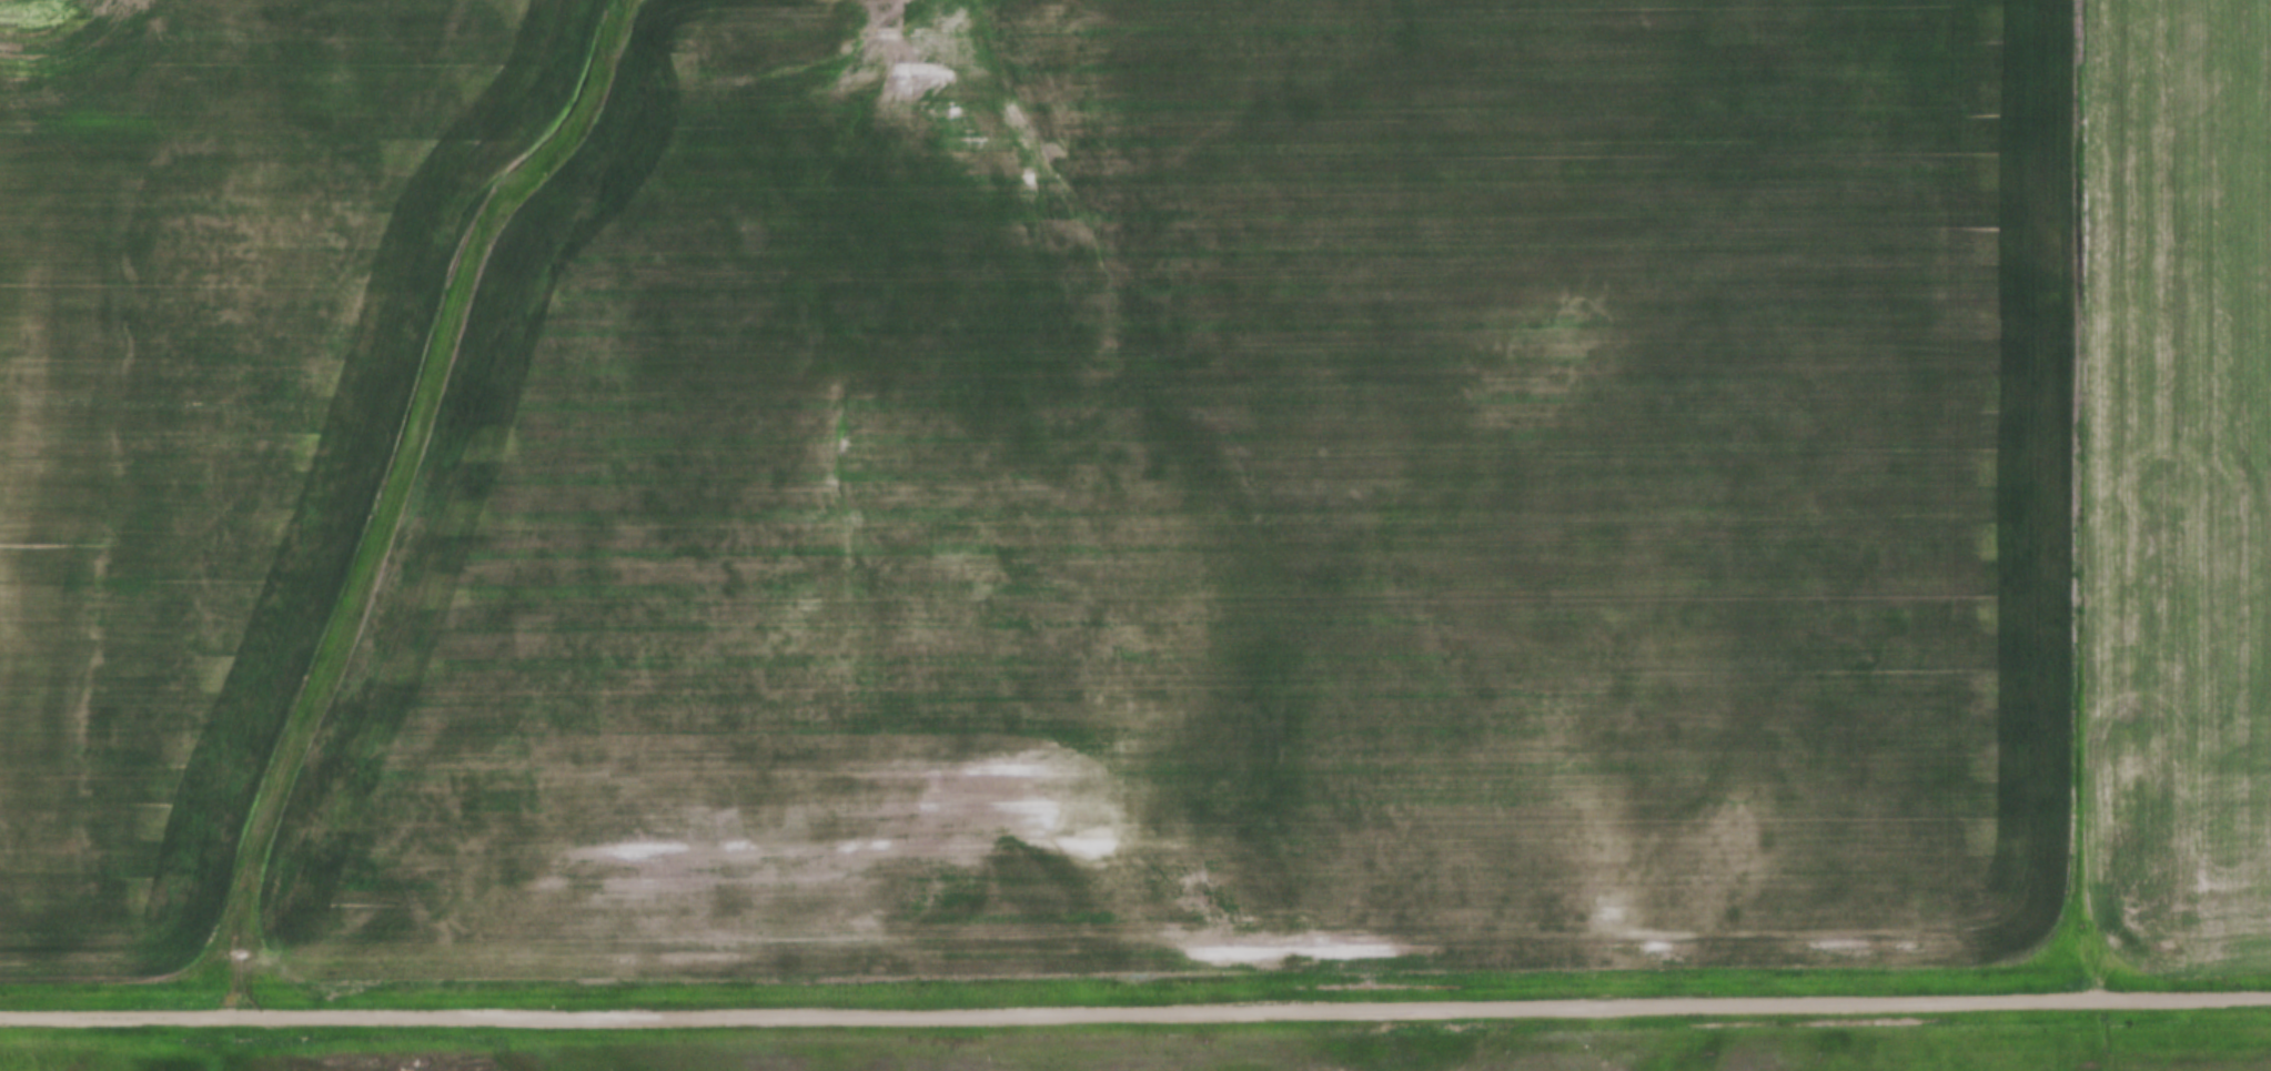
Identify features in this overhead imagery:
road: (1135, 1010)

